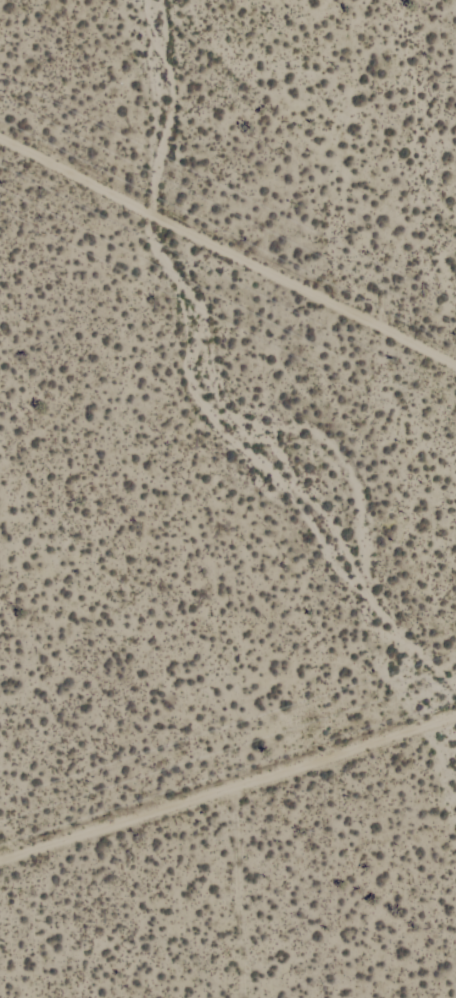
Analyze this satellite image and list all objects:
road: (228, 782)

